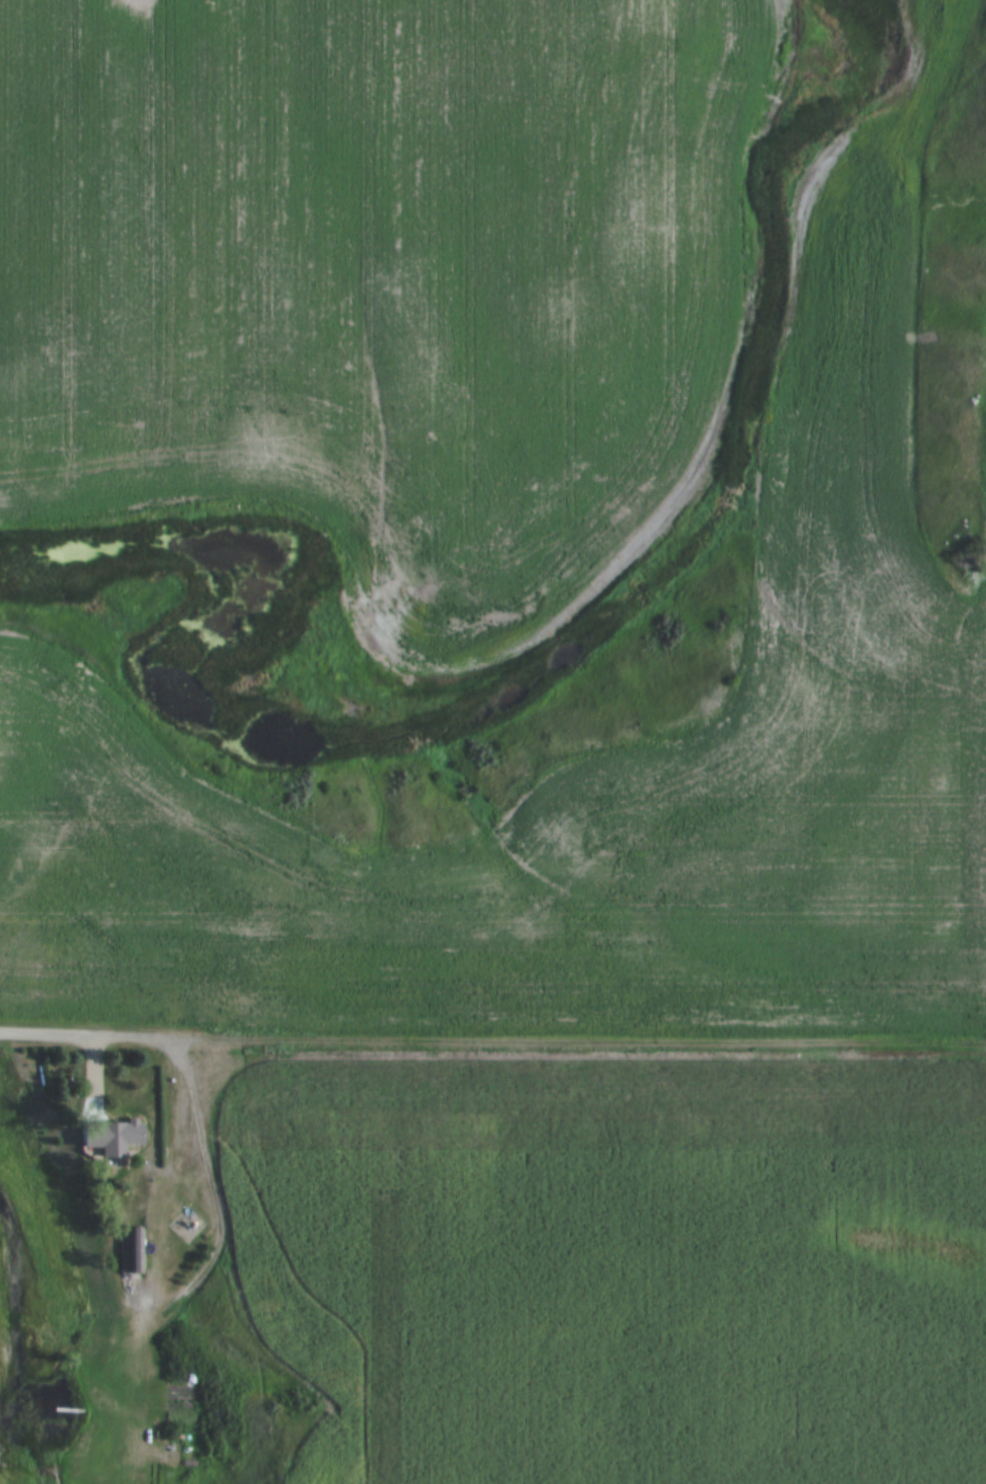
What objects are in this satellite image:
road: (46, 1034)
road: (538, 1044)
building: (112, 1136)
road: (83, 1175)
building: (135, 1250)

